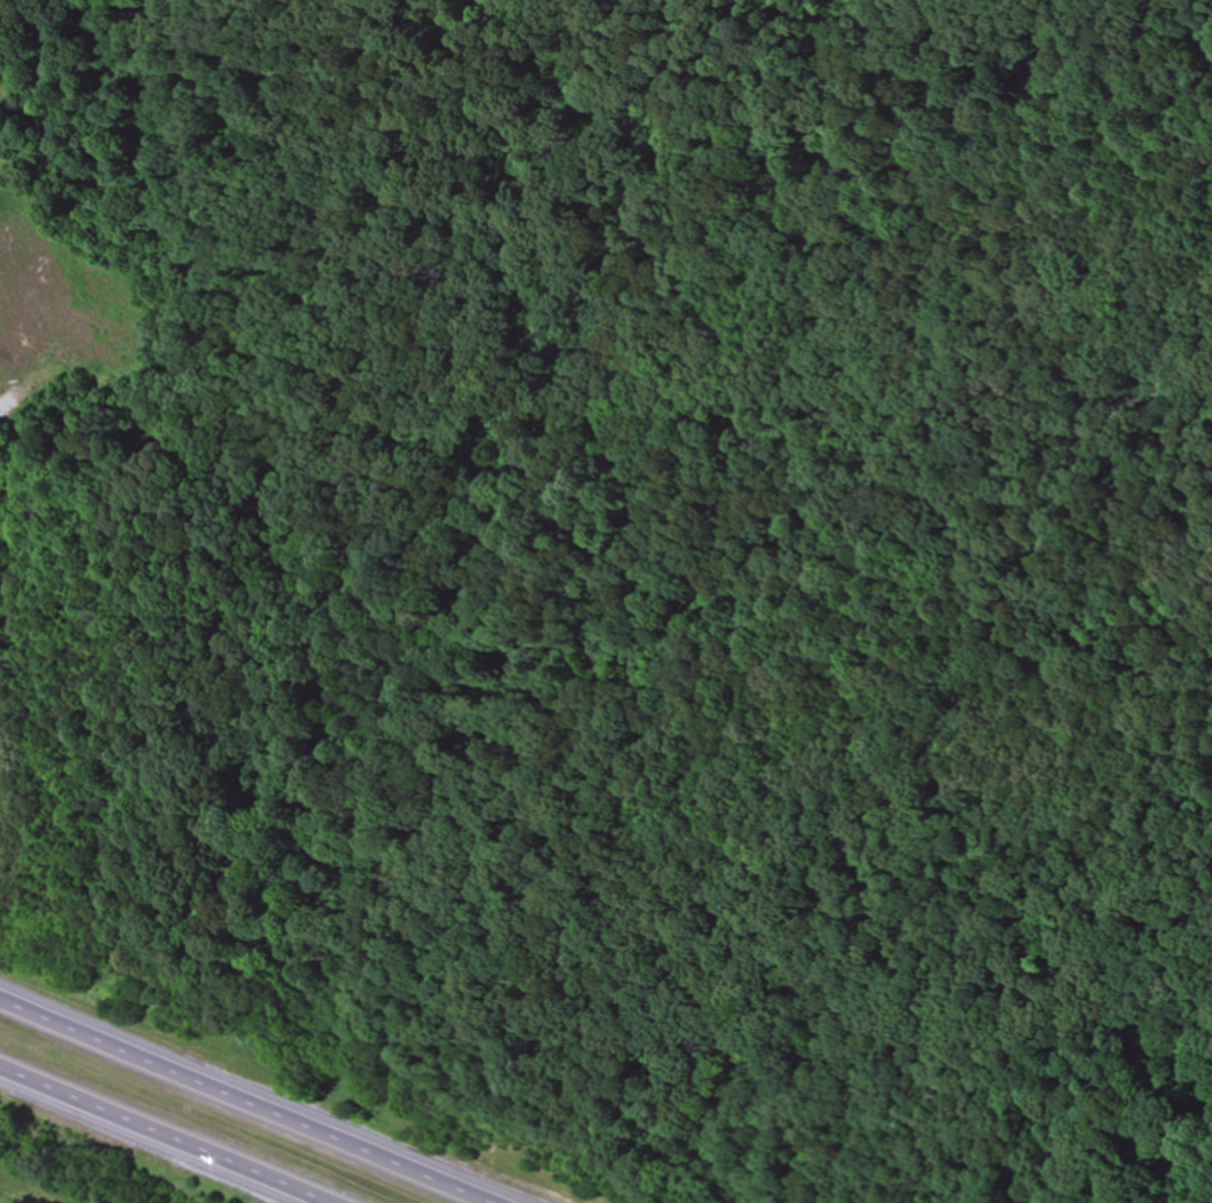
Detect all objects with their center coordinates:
road: (70, 106)
park: (675, 581)
road: (245, 1102)
road: (158, 1138)

